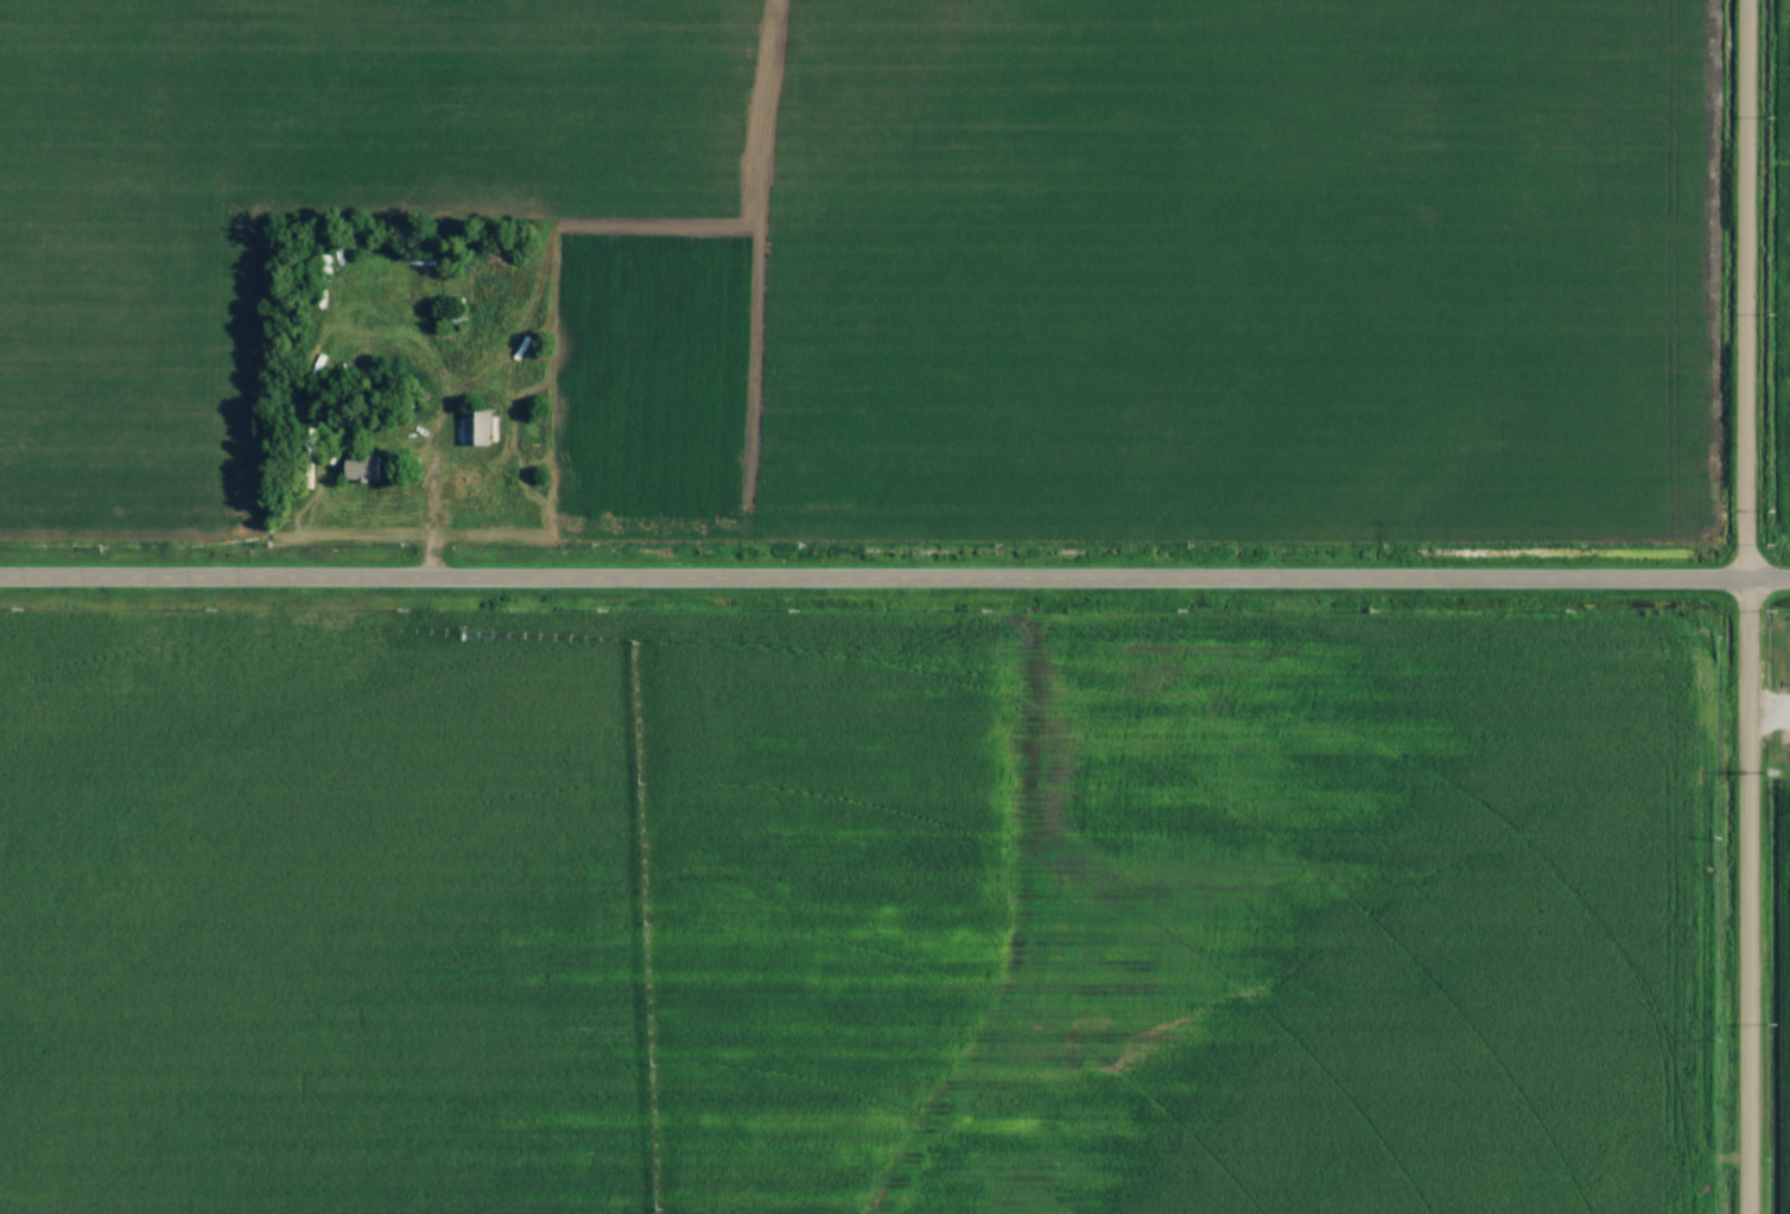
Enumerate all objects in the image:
building: (456, 294)
building: (459, 317)
building: (476, 430)
building: (362, 468)
road: (427, 507)
road: (894, 586)
road: (1743, 606)

